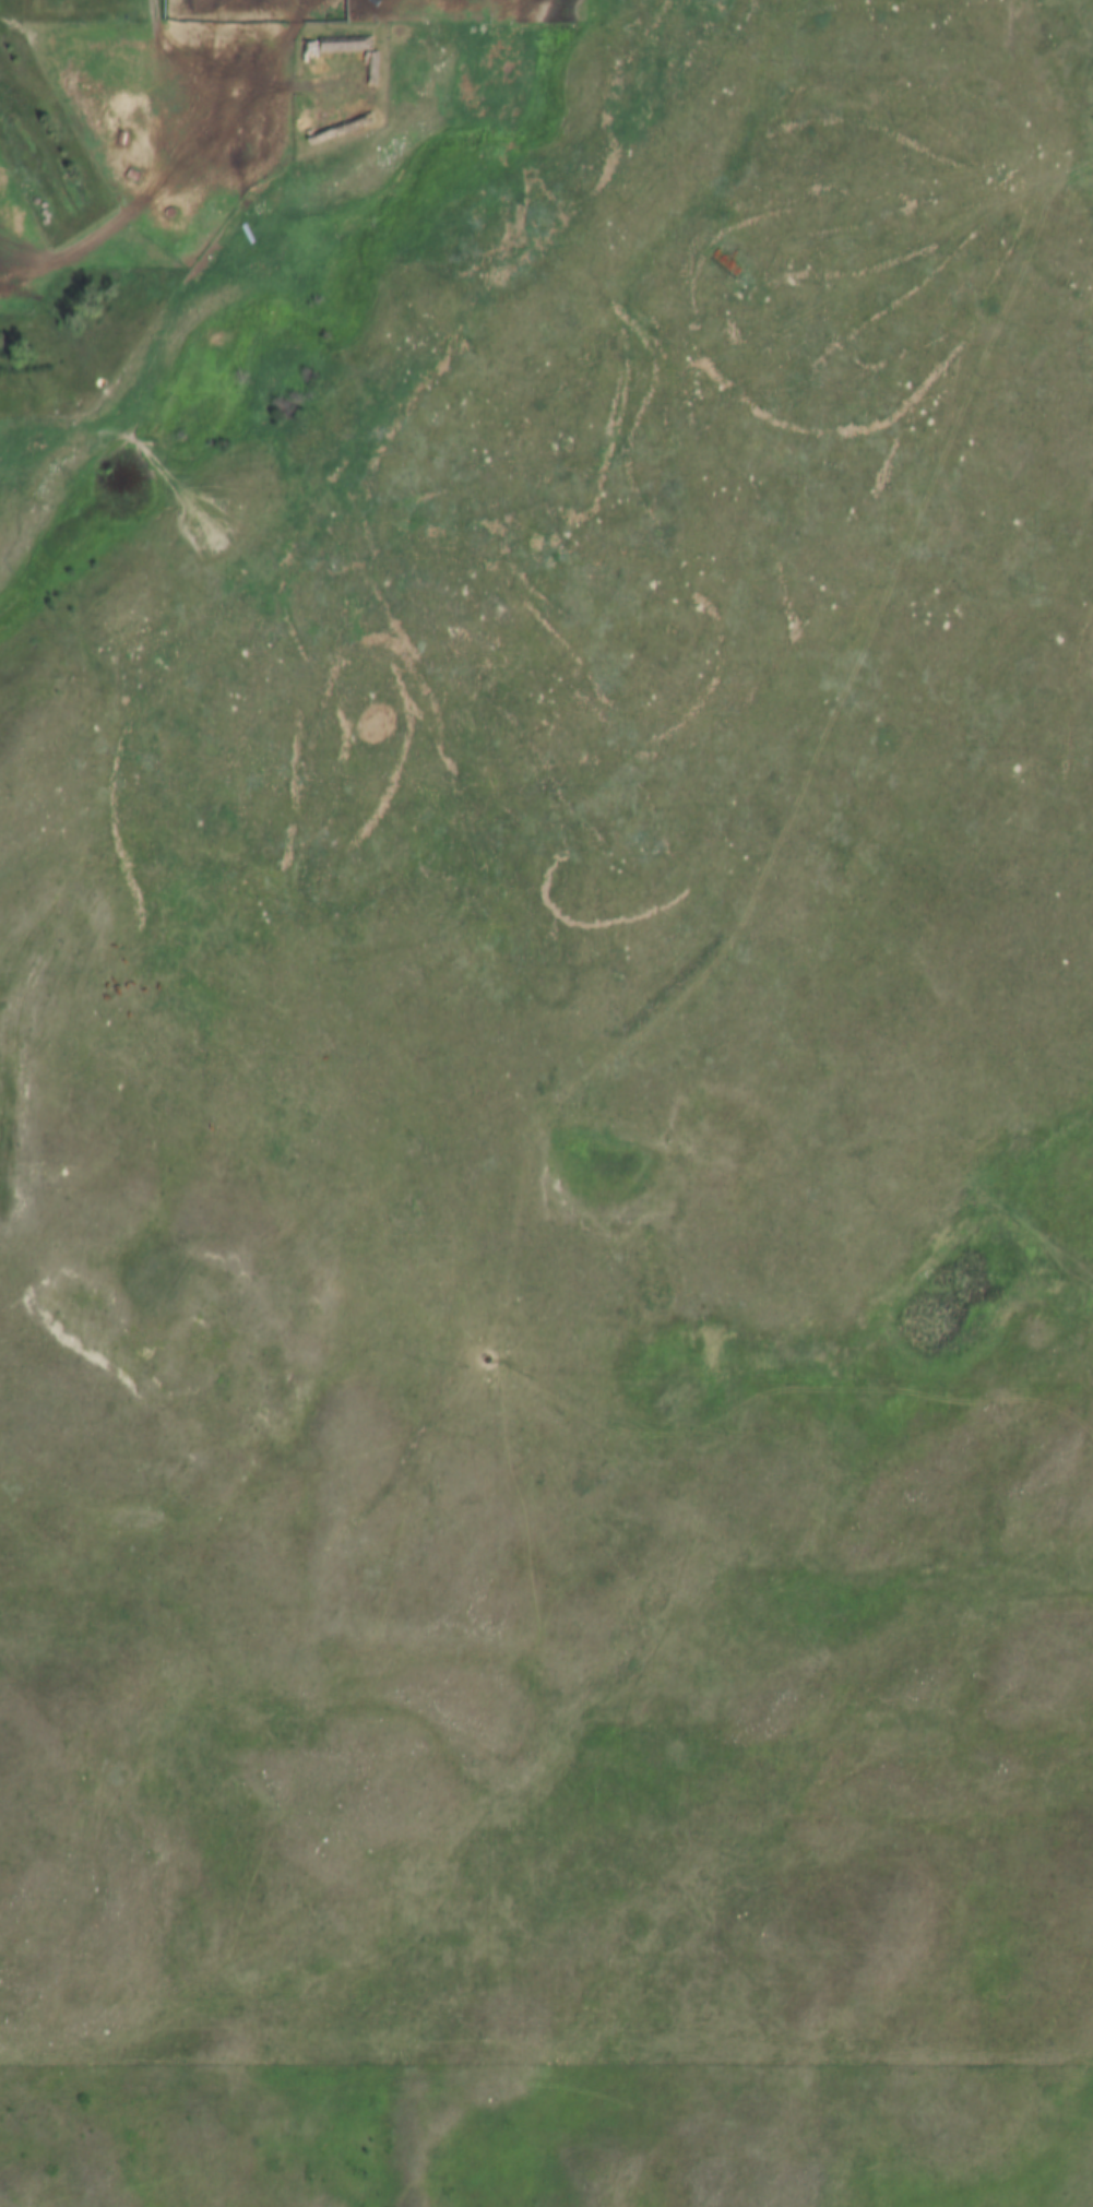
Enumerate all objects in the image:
road: (546, 2072)

